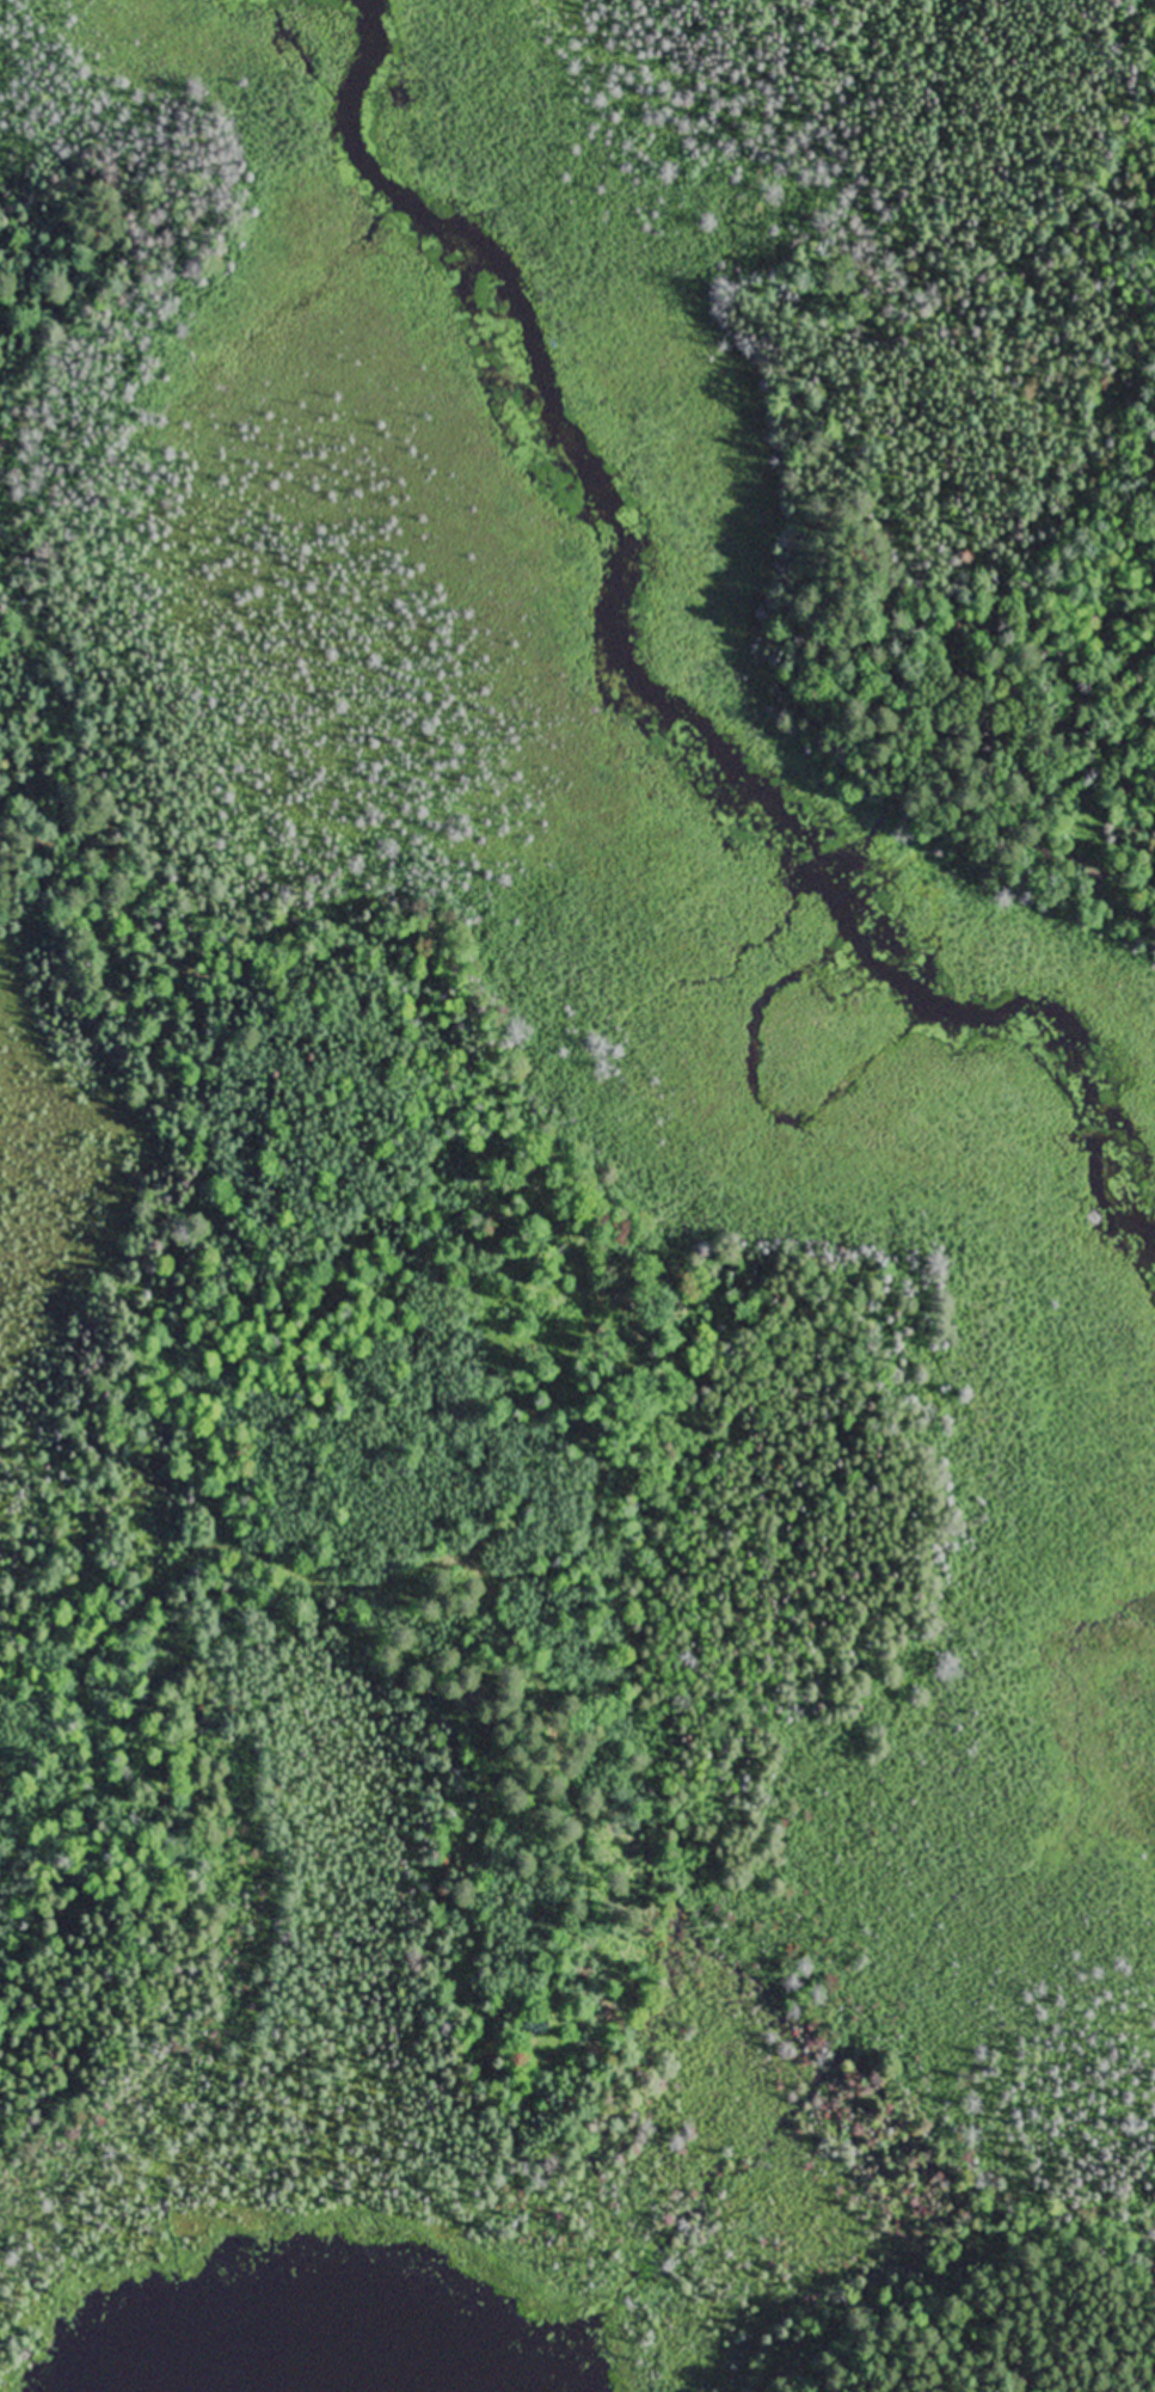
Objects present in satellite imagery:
building: (536, 2024)

